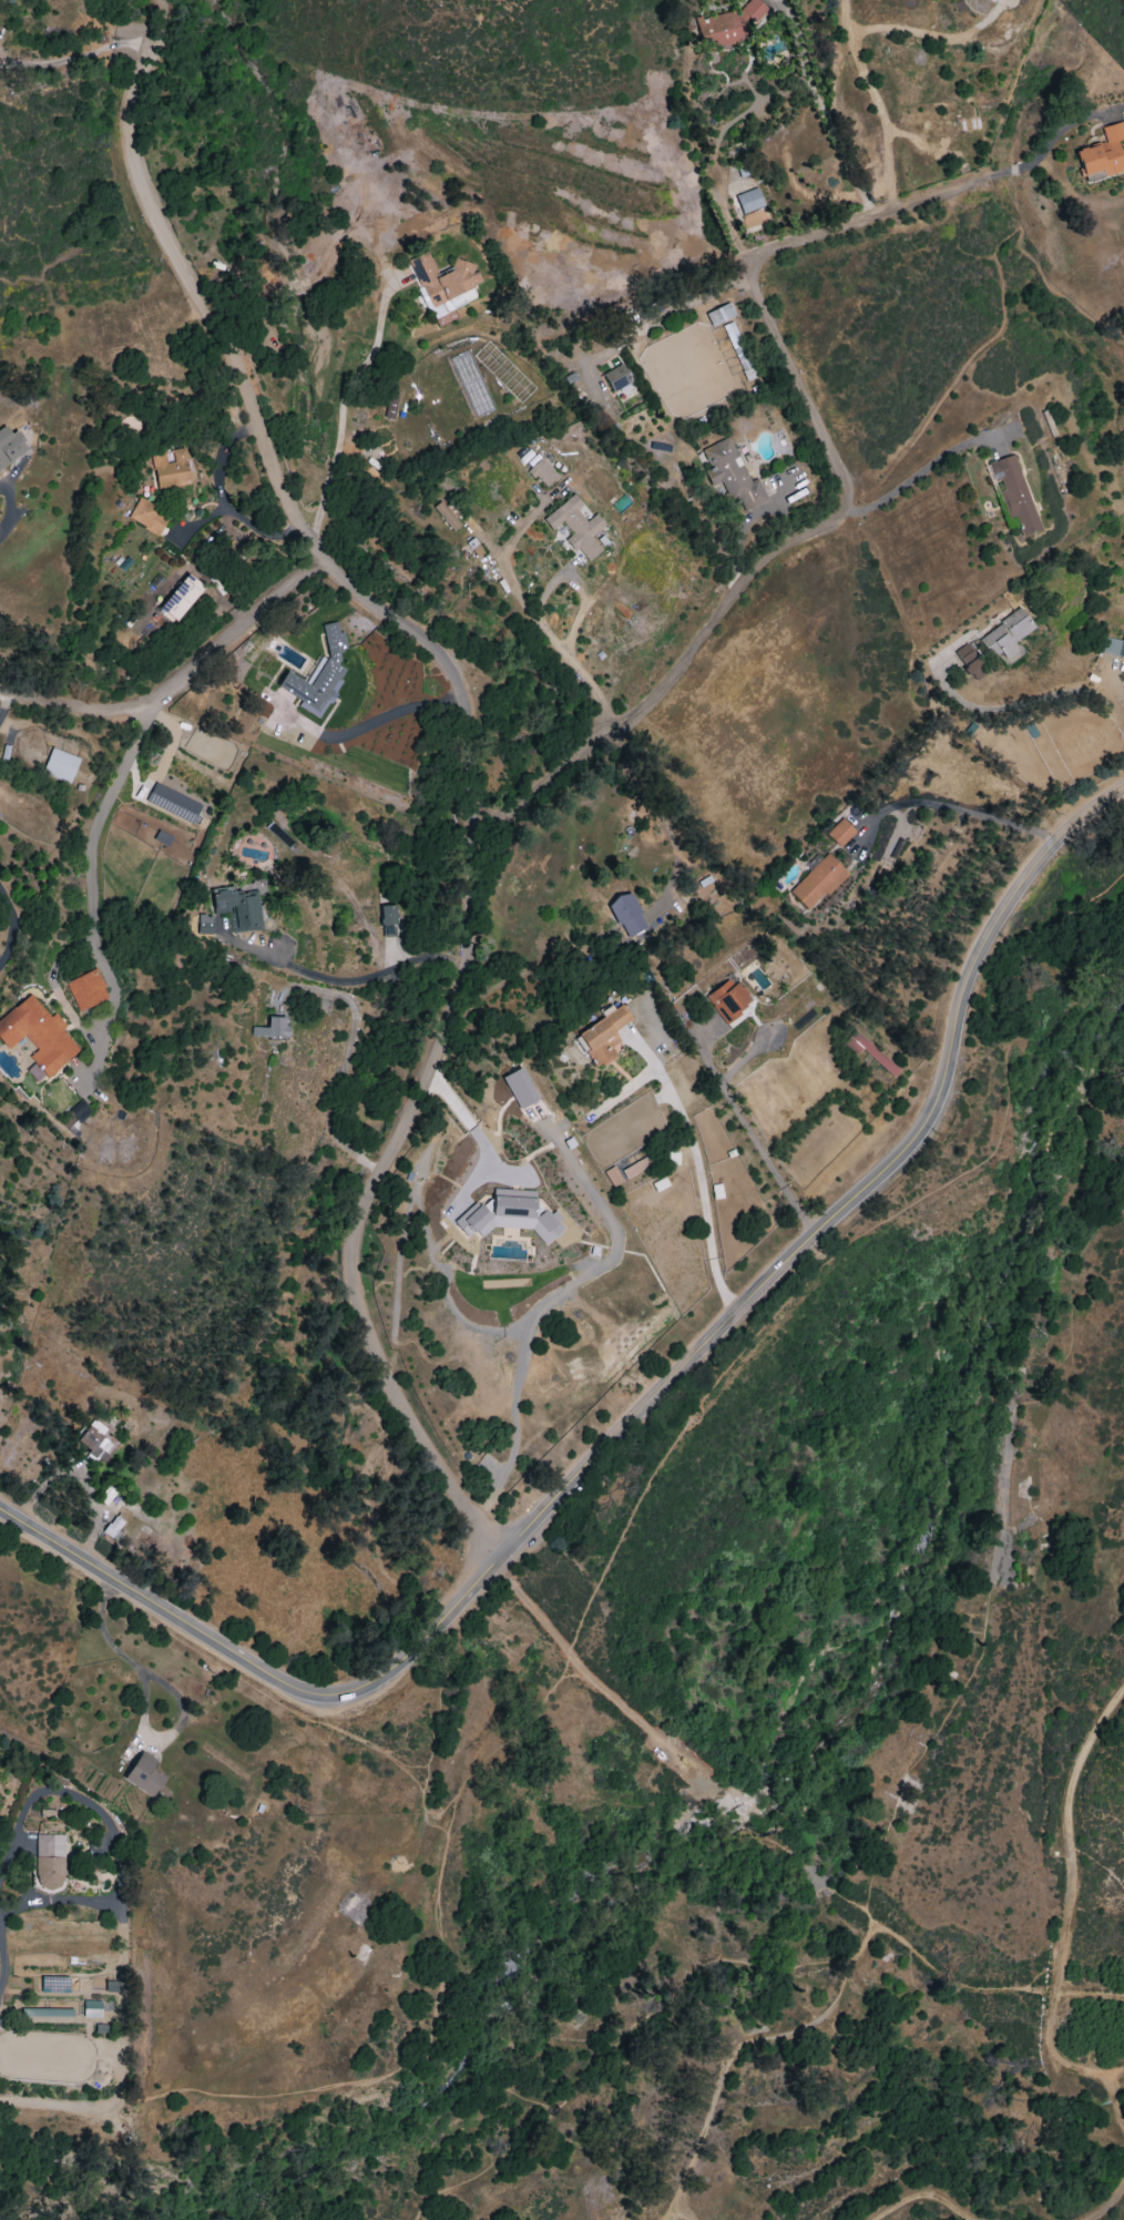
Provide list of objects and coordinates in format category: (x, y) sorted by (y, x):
road: (159, 8)
building: (726, 24)
road: (849, 42)
road: (73, 57)
road: (841, 149)
road: (1043, 151)
building: (1103, 153)
road: (714, 157)
building: (748, 201)
building: (442, 283)
building: (719, 314)
road: (660, 318)
building: (738, 350)
building: (616, 378)
building: (390, 406)
road: (340, 408)
building: (10, 447)
building: (170, 468)
road: (921, 470)
building: (541, 472)
building: (730, 475)
building: (1013, 492)
road: (846, 500)
road: (10, 509)
building: (446, 516)
building: (147, 517)
building: (575, 527)
road: (510, 583)
building: (180, 598)
road: (578, 619)
building: (1005, 637)
building: (1113, 646)
building: (969, 662)
road: (175, 676)
building: (318, 676)
road: (2, 701)
road: (1029, 701)
road: (390, 717)
road: (471, 764)
building: (60, 766)
road: (163, 766)
building: (173, 803)
road: (944, 809)
road: (661, 818)
building: (840, 833)
building: (817, 882)
road: (89, 883)
building: (242, 905)
building: (387, 915)
building: (626, 915)
building: (204, 925)
road: (12, 928)
building: (387, 930)
road: (344, 980)
building: (85, 990)
building: (728, 998)
building: (270, 1028)
building: (38, 1037)
building: (603, 1037)
building: (868, 1051)
building: (519, 1088)
road: (447, 1096)
road: (748, 1124)
building: (635, 1168)
road: (696, 1168)
building: (612, 1177)
road: (851, 1199)
building: (509, 1215)
road: (854, 1241)
road: (1073, 1311)
building: (94, 1440)
building: (113, 1528)
road: (165, 1613)
road: (425, 1638)
road: (127, 1661)
road: (973, 1671)
road: (599, 1672)
road: (237, 1679)
road: (35, 1737)
building: (144, 1776)
road: (74, 1796)
building: (50, 1861)
road: (1097, 1865)
road: (821, 1882)
road: (439, 1904)
road: (1, 1913)
road: (119, 1915)
road: (1062, 1933)
road: (722, 1962)
road: (1070, 1989)
building: (91, 2009)
road: (1052, 2009)
building: (49, 2013)
road: (1036, 2031)
road: (740, 2046)
road: (1090, 2073)
road: (197, 2092)
road: (59, 2106)
road: (527, 2136)
road: (928, 2198)
road: (1105, 2204)
road: (684, 2206)

